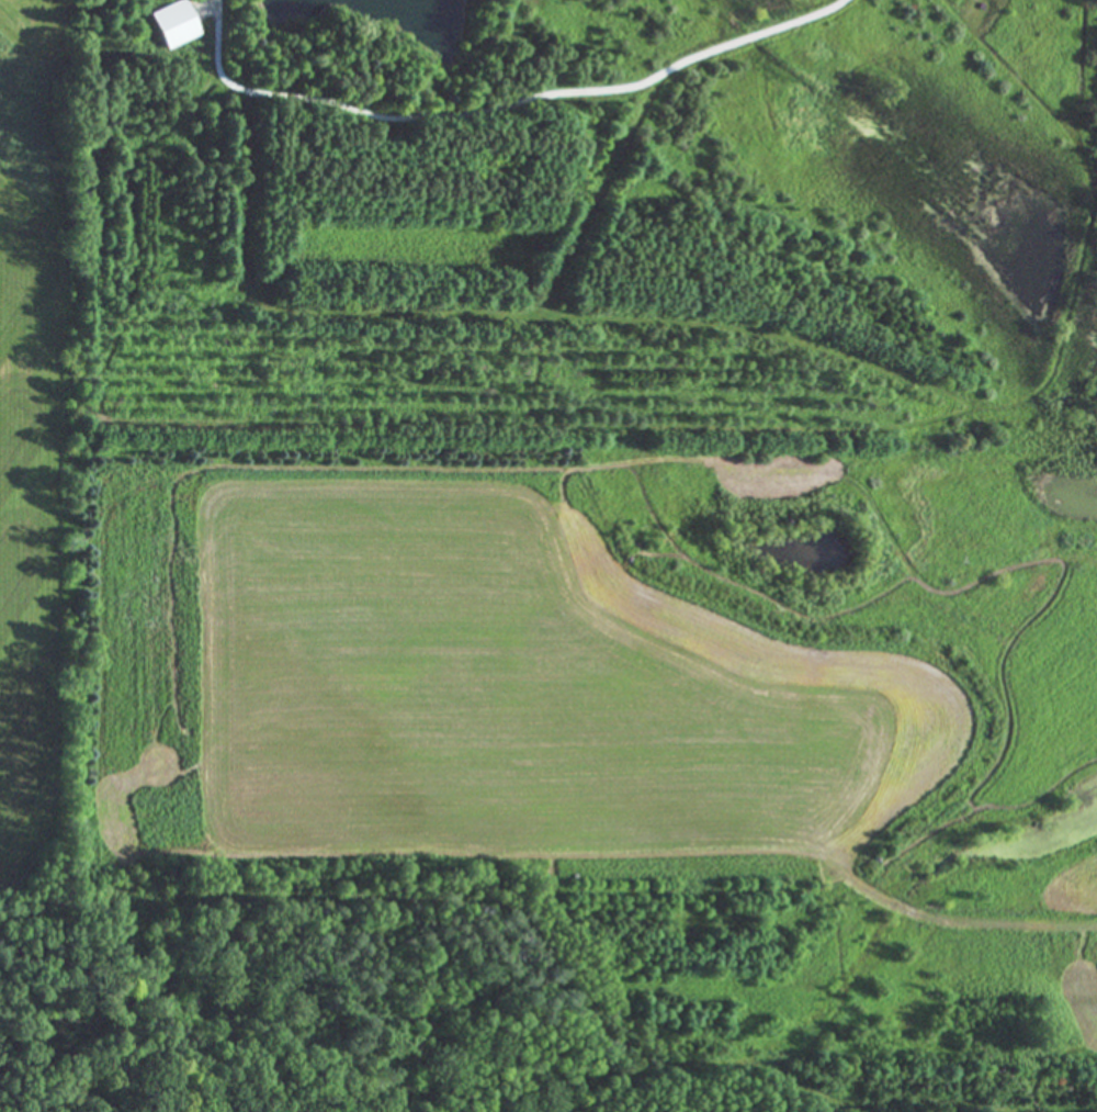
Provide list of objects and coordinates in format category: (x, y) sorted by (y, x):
building: (170, 26)

